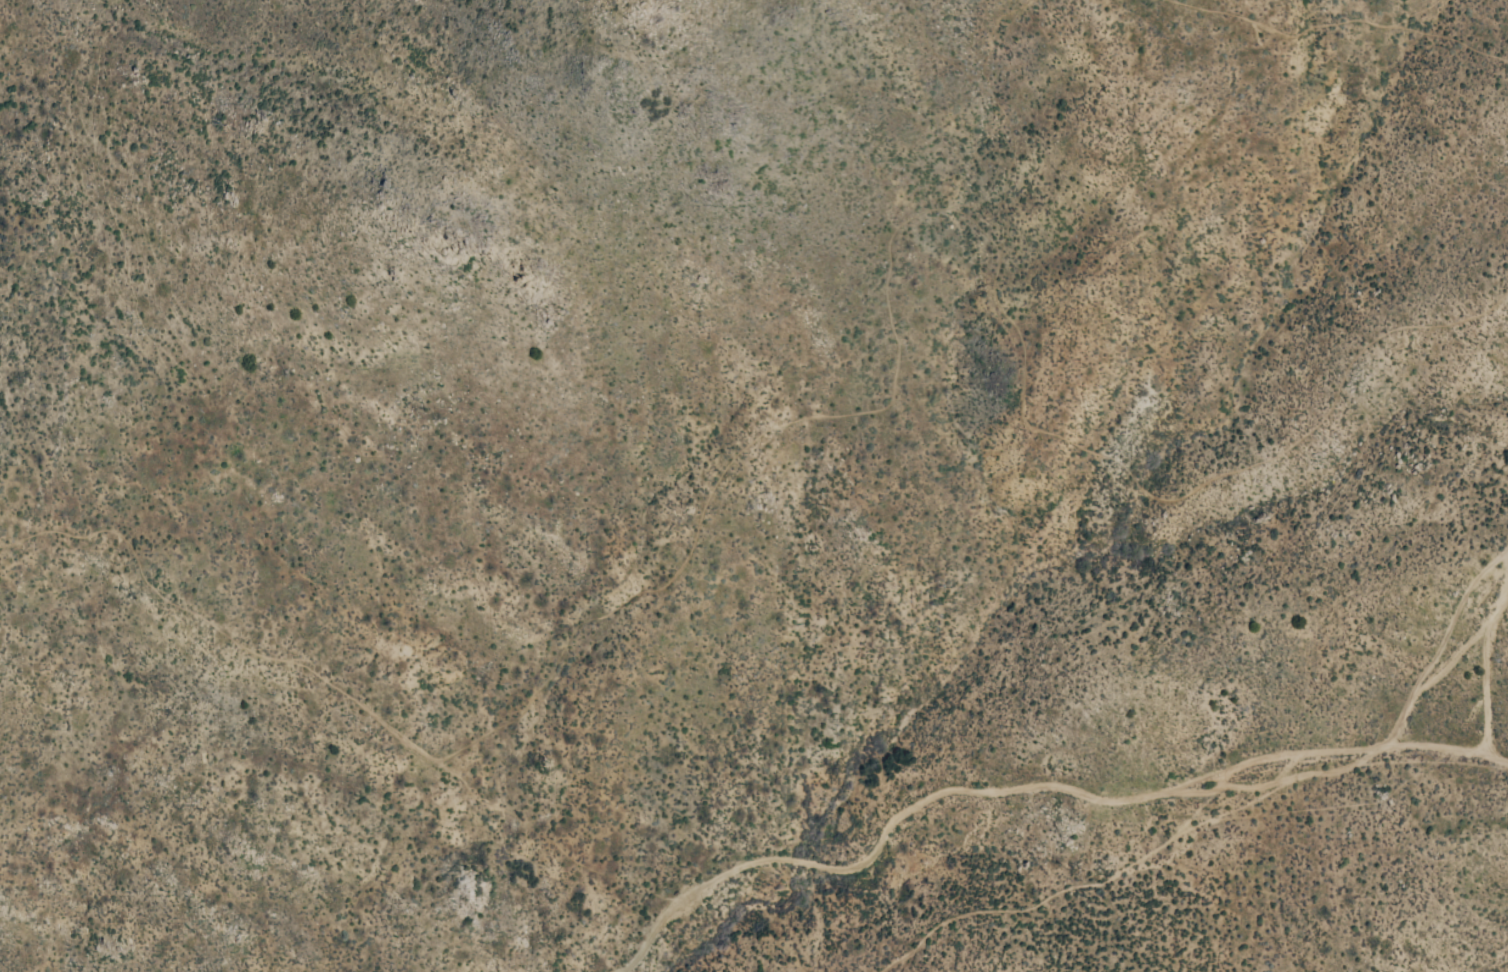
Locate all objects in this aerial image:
road: (1028, 786)
road: (1059, 893)

